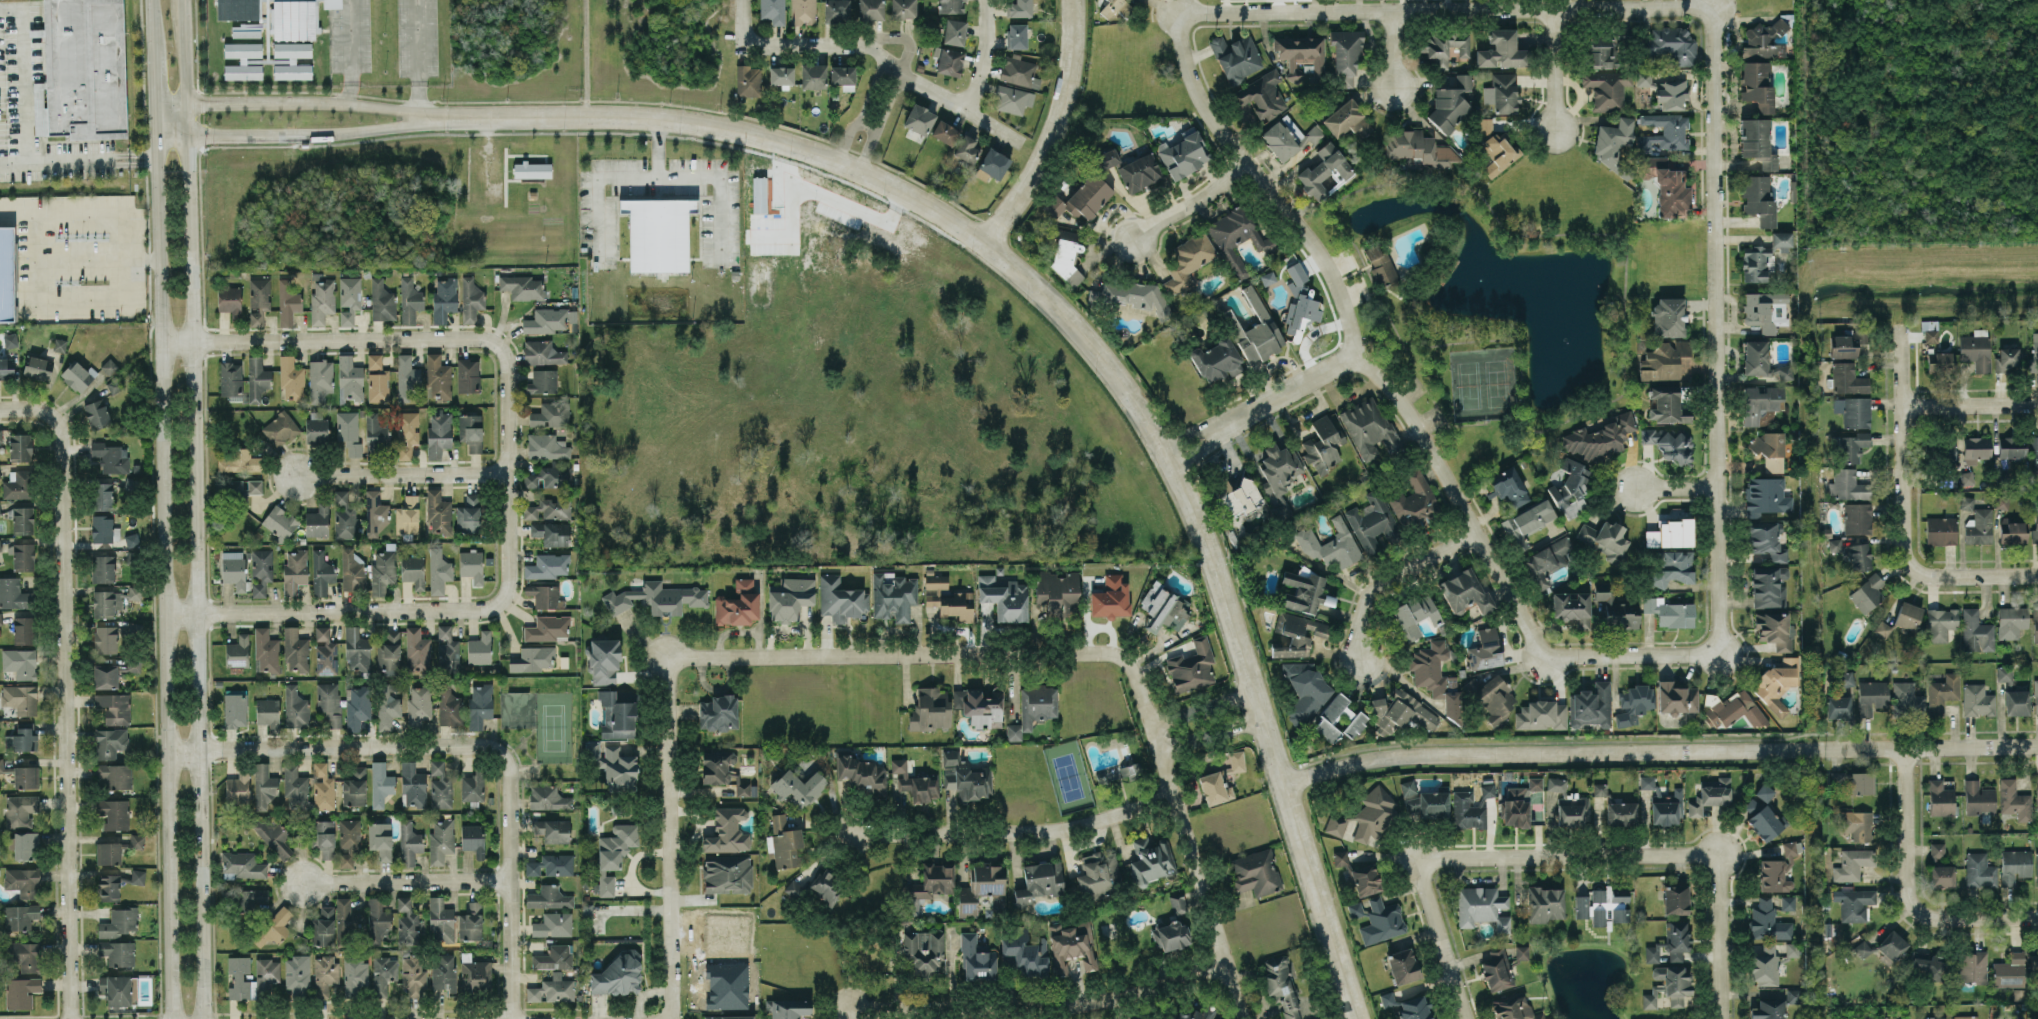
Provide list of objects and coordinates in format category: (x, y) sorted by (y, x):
building: (332, 3)
building: (950, 6)
building: (903, 8)
building: (1019, 8)
building: (870, 9)
building: (837, 10)
road: (1443, 10)
building: (773, 11)
building: (803, 12)
building: (294, 19)
road: (744, 21)
road: (153, 23)
building: (245, 31)
building: (954, 31)
building: (1016, 35)
road: (897, 38)
building: (1763, 42)
building: (1672, 44)
building: (1443, 47)
road: (1393, 48)
building: (243, 49)
building: (1501, 50)
road: (350, 51)
building: (1601, 51)
road: (184, 55)
building: (1346, 55)
road: (418, 56)
road: (982, 56)
building: (1236, 57)
building: (292, 60)
building: (948, 60)
road: (889, 63)
building: (82, 70)
road: (1554, 70)
building: (242, 71)
building: (1019, 71)
road: (23, 74)
building: (781, 75)
building: (813, 76)
building: (843, 76)
building: (1643, 76)
building: (748, 81)
road: (155, 83)
building: (1757, 84)
building: (1606, 88)
building: (1502, 92)
building: (1671, 93)
building: (1260, 96)
building: (1012, 99)
building: (1451, 99)
road: (312, 101)
road: (863, 111)
road: (172, 114)
road: (878, 119)
building: (919, 119)
building: (1347, 120)
road: (186, 122)
building: (1484, 124)
road: (867, 125)
road: (171, 127)
road: (1053, 129)
building: (945, 132)
building: (1664, 132)
road: (312, 134)
building: (1288, 137)
building: (1757, 142)
building: (1614, 144)
road: (658, 148)
building: (1420, 148)
building: (966, 149)
building: (1499, 152)
building: (1183, 153)
road: (78, 158)
building: (1106, 158)
building: (993, 163)
building: (532, 169)
building: (1323, 170)
building: (1140, 173)
road: (669, 177)
building: (1666, 186)
building: (759, 194)
building: (1082, 198)
building: (1759, 199)
road: (1190, 202)
building: (658, 233)
road: (1549, 233)
building: (1238, 237)
building: (1781, 240)
building: (1064, 254)
building: (1188, 261)
parking lot: (1341, 262)
building: (1755, 262)
building: (1380, 263)
road: (1361, 272)
building: (6, 273)
road: (1351, 273)
building: (1268, 278)
building: (522, 286)
road: (1373, 291)
parking lot: (1355, 292)
building: (1133, 295)
building: (349, 298)
building: (444, 299)
building: (471, 299)
building: (229, 300)
building: (321, 300)
building: (382, 300)
building: (410, 300)
building: (1300, 301)
building: (287, 302)
park: (1486, 303)
road: (107, 304)
building: (1765, 310)
building: (1668, 316)
building: (552, 320)
building: (1927, 324)
road: (1715, 329)
building: (1254, 330)
building: (1930, 336)
building: (10, 340)
road: (329, 341)
building: (59, 344)
building: (1845, 345)
road: (1094, 346)
building: (1975, 349)
building: (542, 352)
building: (2034, 352)
building: (1216, 360)
building: (1663, 360)
building: (1761, 360)
building: (2006, 360)
building: (1941, 362)
building: (108, 366)
building: (38, 367)
building: (6, 368)
building: (77, 375)
building: (468, 375)
building: (406, 377)
building: (438, 377)
building: (231, 378)
building: (257, 378)
building: (291, 378)
building: (349, 378)
building: (320, 379)
building: (377, 379)
building: (1848, 379)
building: (542, 381)
park: (1481, 382)
building: (114, 385)
building: (1760, 401)
building: (1667, 404)
road: (1972, 404)
road: (1260, 406)
road: (1404, 407)
road: (27, 409)
building: (1853, 411)
building: (96, 413)
building: (551, 413)
parking lot: (1431, 420)
building: (316, 427)
building: (280, 428)
building: (1369, 428)
building: (349, 431)
building: (471, 431)
building: (439, 432)
building: (407, 433)
building: (375, 435)
building: (0, 437)
building: (1599, 437)
building: (1324, 443)
building: (1670, 444)
building: (546, 446)
building: (20, 447)
building: (1851, 447)
building: (2011, 447)
building: (2034, 448)
building: (1769, 450)
building: (1944, 450)
building: (239, 460)
building: (1279, 466)
road: (507, 469)
road: (400, 474)
building: (551, 475)
building: (0, 477)
building: (1966, 477)
building: (131, 483)
building: (18, 484)
building: (1567, 484)
building: (1848, 485)
building: (1508, 486)
building: (246, 487)
road: (1676, 488)
building: (1235, 495)
building: (102, 496)
building: (1765, 496)
road: (1906, 499)
building: (1414, 501)
building: (1967, 502)
building: (1574, 507)
building: (549, 508)
building: (0, 512)
building: (375, 513)
building: (438, 513)
building: (468, 514)
building: (407, 515)
building: (344, 516)
building: (1857, 518)
building: (22, 519)
building: (317, 521)
building: (279, 522)
building: (1372, 522)
building: (1527, 522)
building: (1979, 526)
building: (102, 528)
building: (2035, 529)
building: (1940, 530)
building: (2012, 532)
building: (551, 533)
building: (1670, 533)
building: (1603, 538)
building: (131, 539)
building: (1765, 540)
building: (1330, 544)
building: (1835, 544)
building: (0, 547)
building: (23, 556)
building: (1859, 556)
building: (1547, 560)
building: (471, 565)
building: (547, 566)
building: (1672, 567)
building: (103, 568)
road: (165, 568)
building: (234, 569)
building: (383, 569)
building: (352, 570)
building: (413, 570)
building: (260, 571)
building: (294, 571)
building: (438, 571)
building: (321, 573)
road: (2030, 573)
road: (198, 576)
road: (1391, 577)
building: (1768, 586)
building: (1057, 591)
building: (1303, 591)
building: (1464, 591)
building: (135, 592)
building: (1867, 592)
building: (14, 594)
building: (544, 595)
building: (893, 596)
building: (1004, 597)
building: (1110, 597)
building: (657, 598)
building: (790, 598)
building: (840, 599)
building: (947, 600)
building: (106, 602)
building: (738, 604)
building: (1163, 607)
building: (1572, 608)
building: (1616, 608)
road: (336, 611)
building: (1669, 611)
building: (1415, 615)
building: (1907, 615)
building: (1, 619)
building: (2011, 621)
building: (1940, 624)
building: (2035, 624)
building: (547, 628)
building: (1774, 629)
building: (1882, 629)
building: (23, 630)
building: (1976, 631)
building: (1296, 634)
building: (105, 639)
building: (479, 648)
building: (295, 649)
building: (357, 649)
building: (1484, 649)
building: (266, 650)
building: (418, 650)
building: (447, 650)
building: (237, 651)
building: (325, 651)
building: (389, 651)
road: (938, 654)
building: (532, 658)
building: (604, 661)
building: (20, 663)
building: (1192, 667)
building: (2004, 673)
building: (105, 676)
building: (1436, 677)
building: (1843, 682)
building: (1777, 684)
building: (1304, 690)
building: (1942, 692)
building: (1871, 696)
building: (2036, 696)
building: (20, 698)
building: (1676, 698)
building: (1977, 700)
building: (329, 702)
building: (2016, 702)
building: (1633, 703)
building: (387, 704)
building: (419, 705)
building: (449, 705)
building: (479, 705)
building: (1591, 705)
building: (357, 706)
building: (980, 706)
building: (1838, 706)
building: (114, 707)
building: (295, 707)
building: (517, 708)
building: (931, 708)
building: (1033, 708)
building: (1735, 709)
building: (235, 710)
building: (718, 712)
building: (1401, 712)
building: (268, 713)
building: (1540, 715)
road: (67, 716)
building: (617, 716)
building: (1332, 717)
road: (1206, 719)
building: (1355, 724)
building: (21, 738)
building: (110, 742)
road: (335, 747)
road: (1658, 751)
building: (1237, 760)
building: (1, 765)
building: (614, 766)
building: (716, 767)
building: (1128, 771)
building: (862, 772)
building: (26, 776)
building: (114, 776)
building: (965, 776)
building: (1105, 776)
building: (1855, 781)
building: (914, 782)
building: (1646, 782)
building: (1535, 783)
building: (380, 784)
building: (412, 784)
building: (263, 785)
building: (440, 785)
building: (473, 785)
building: (237, 787)
building: (294, 787)
building: (323, 787)
building: (355, 787)
building: (1408, 787)
building: (798, 788)
building: (1214, 788)
building: (743, 789)
building: (1599, 789)
building: (1487, 790)
building: (2036, 793)
building: (547, 797)
building: (1710, 797)
building: (1940, 798)
building: (1979, 798)
building: (2014, 800)
building: (1568, 803)
building: (1428, 804)
building: (1520, 807)
building: (1666, 808)
building: (20, 809)
building: (1467, 811)
building: (114, 813)
building: (1621, 813)
building: (1762, 813)
building: (1374, 814)
building: (1335, 824)
building: (1857, 824)
building: (552, 830)
building: (727, 831)
road: (1018, 833)
road: (1904, 833)
building: (272, 836)
building: (323, 837)
road: (668, 838)
building: (473, 839)
building: (380, 840)
building: (441, 840)
building: (137, 841)
building: (348, 841)
building: (784, 842)
building: (409, 843)
building: (23, 844)
building: (1937, 850)
building: (108, 853)
building: (614, 853)
road: (1566, 856)
building: (1340, 857)
building: (1151, 860)
building: (241, 864)
building: (1852, 864)
building: (551, 865)
building: (2015, 865)
building: (2036, 867)
building: (1777, 870)
building: (1979, 870)
building: (1255, 872)
building: (727, 873)
building: (1099, 875)
building: (138, 876)
building: (1941, 876)
road: (1203, 877)
building: (1366, 879)
road: (406, 880)
building: (23, 881)
building: (932, 881)
building: (1039, 881)
road: (511, 884)
building: (108, 886)
building: (826, 887)
building: (793, 888)
building: (982, 888)
building: (1619, 894)
building: (1598, 895)
building: (548, 897)
building: (251, 899)
building: (1675, 899)
building: (1177, 902)
building: (1854, 903)
building: (1546, 904)
building: (1581, 906)
building: (1482, 907)
building: (1355, 909)
building: (1620, 915)
road: (1979, 915)
building: (19, 916)
building: (1598, 917)
building: (346, 920)
building: (440, 920)
building: (1764, 920)
building: (120, 921)
building: (377, 921)
building: (407, 921)
building: (1382, 921)
building: (470, 922)
building: (553, 924)
building: (324, 926)
building: (273, 928)
building: (1171, 935)
road: (1719, 936)
road: (1439, 938)
building: (1677, 939)
building: (1891, 945)
building: (1072, 946)
building: (1863, 948)
building: (1025, 950)
building: (1521, 951)
building: (117, 952)
building: (923, 952)
building: (1651, 953)
building: (24, 955)
building: (553, 957)
building: (976, 958)
building: (2033, 961)
building: (1402, 965)
building: (1764, 965)
building: (1928, 966)
building: (1972, 968)
building: (1497, 970)
building: (2009, 970)
building: (443, 971)
building: (326, 974)
building: (383, 974)
building: (618, 974)
building: (297, 975)
building: (413, 975)
building: (475, 975)
building: (267, 976)
building: (356, 976)
park: (1593, 980)
building: (1674, 983)
building: (1281, 986)
building: (119, 989)
building: (552, 989)
building: (21, 991)
building: (1387, 998)
building: (1650, 999)
road: (1041, 1007)
building: (787, 1008)
building: (1414, 1008)
building: (1514, 1009)
building: (1768, 1009)
building: (1196, 1013)
building: (728, 1017)
building: (1931, 1017)
building: (1965, 1017)
building: (2034, 1017)
building: (1218, 1018)

